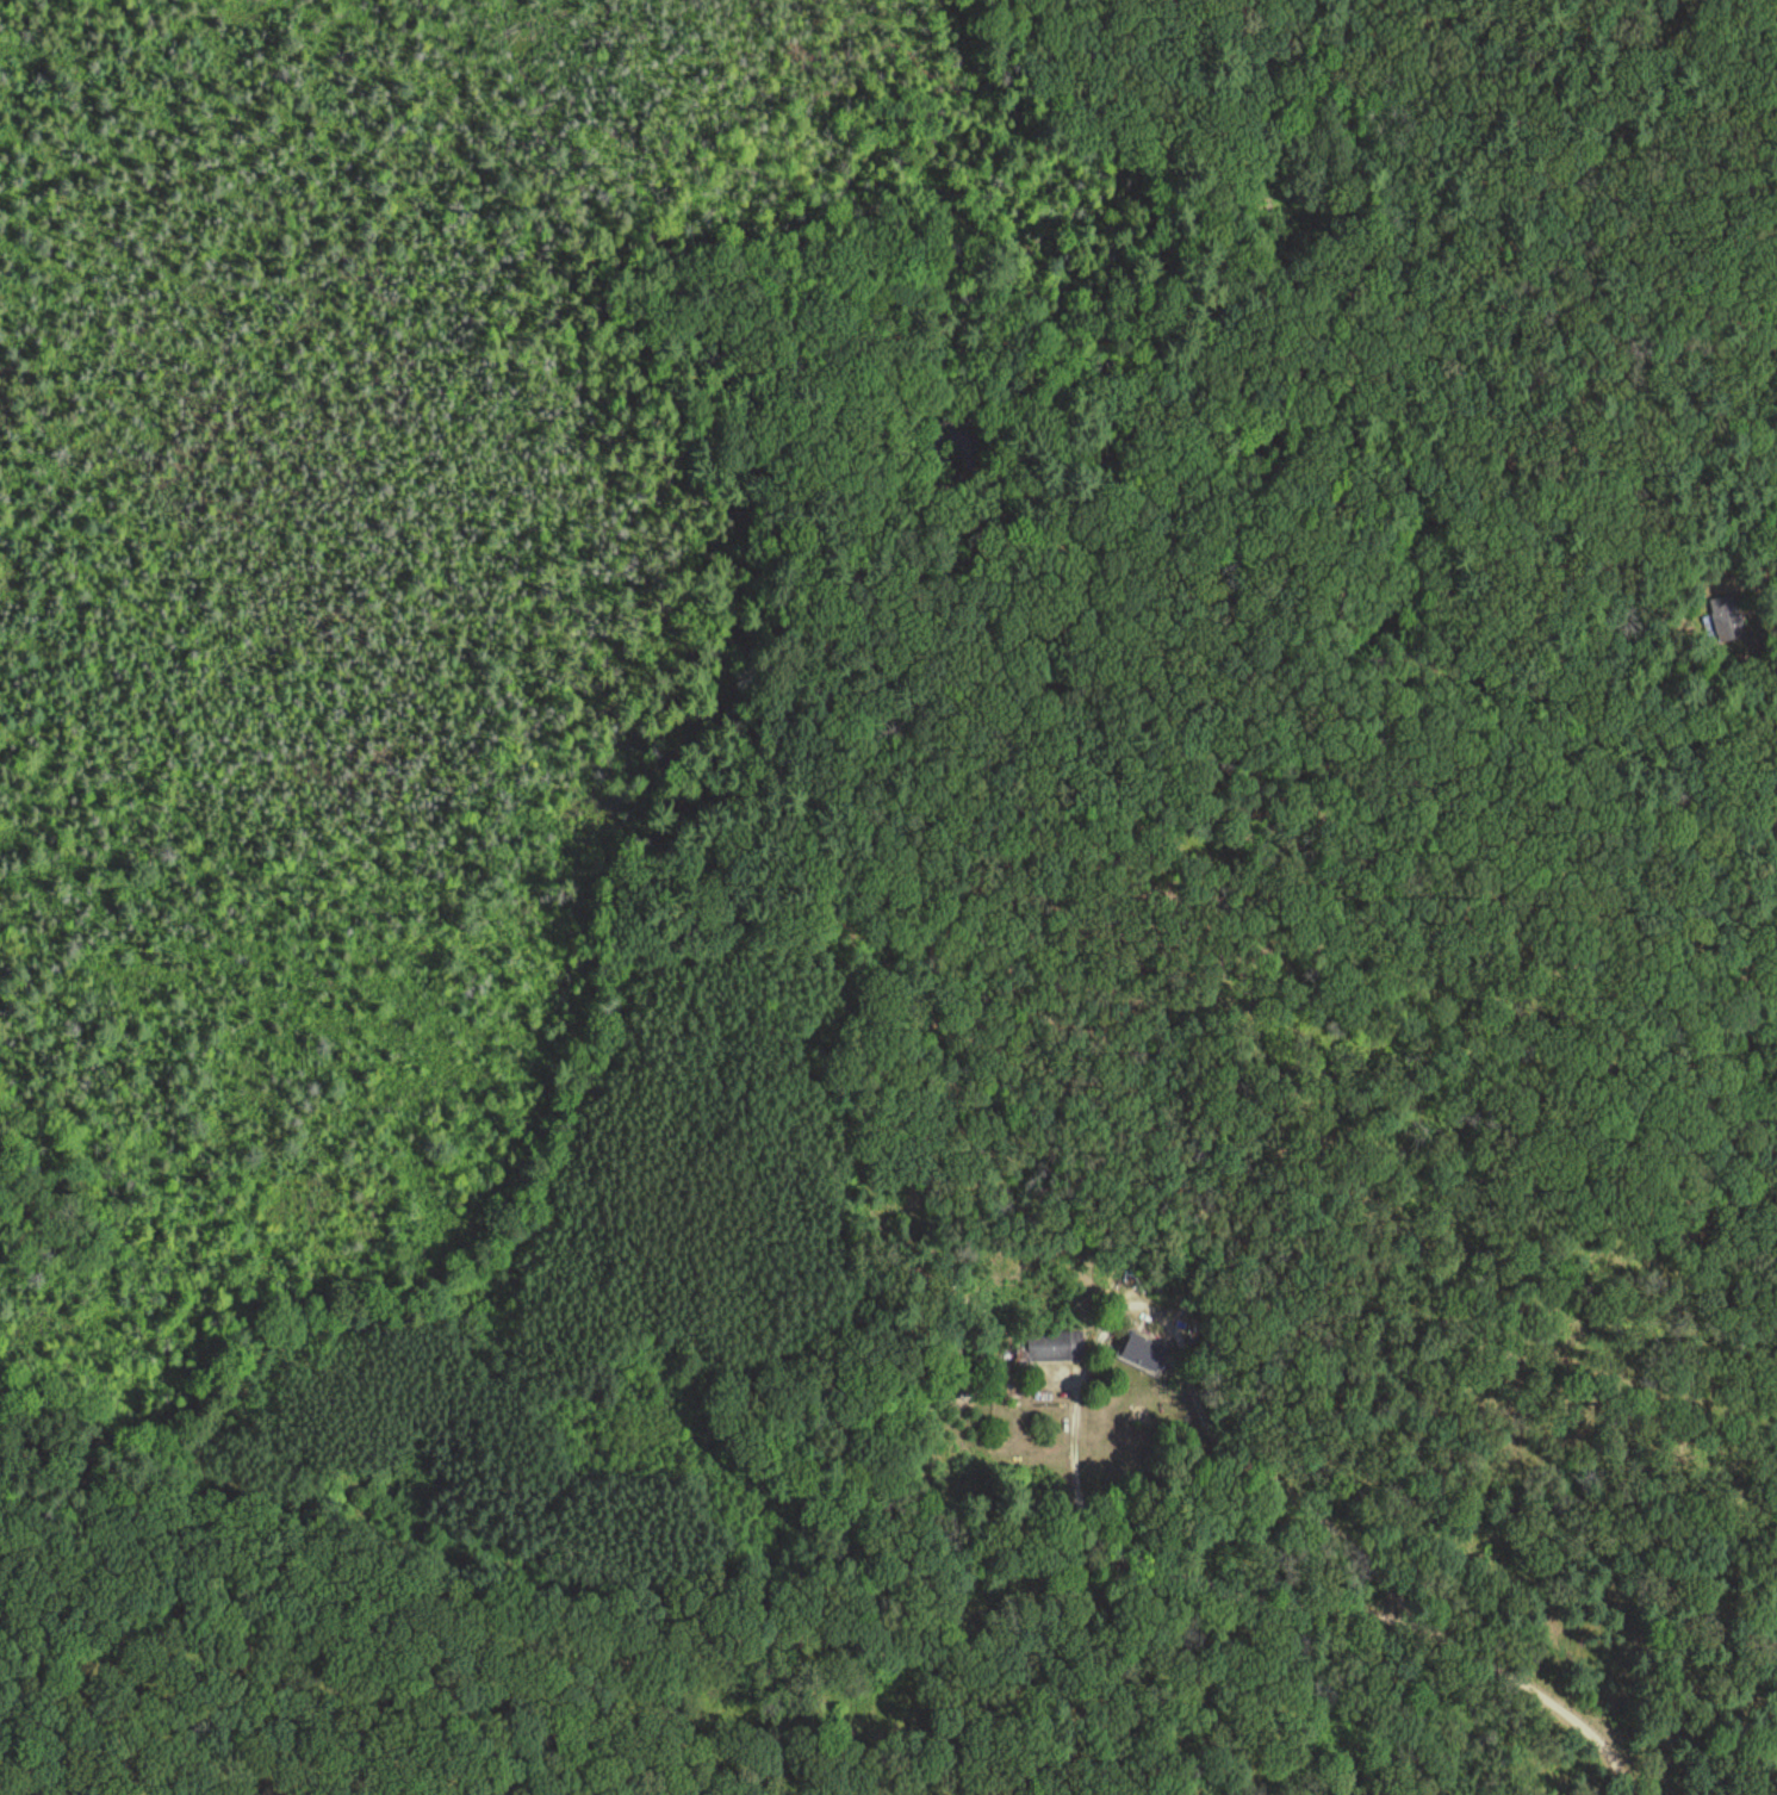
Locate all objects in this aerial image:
road: (1760, 580)
building: (1056, 1348)
road: (1086, 1352)
building: (1148, 1356)
road: (1545, 1690)

